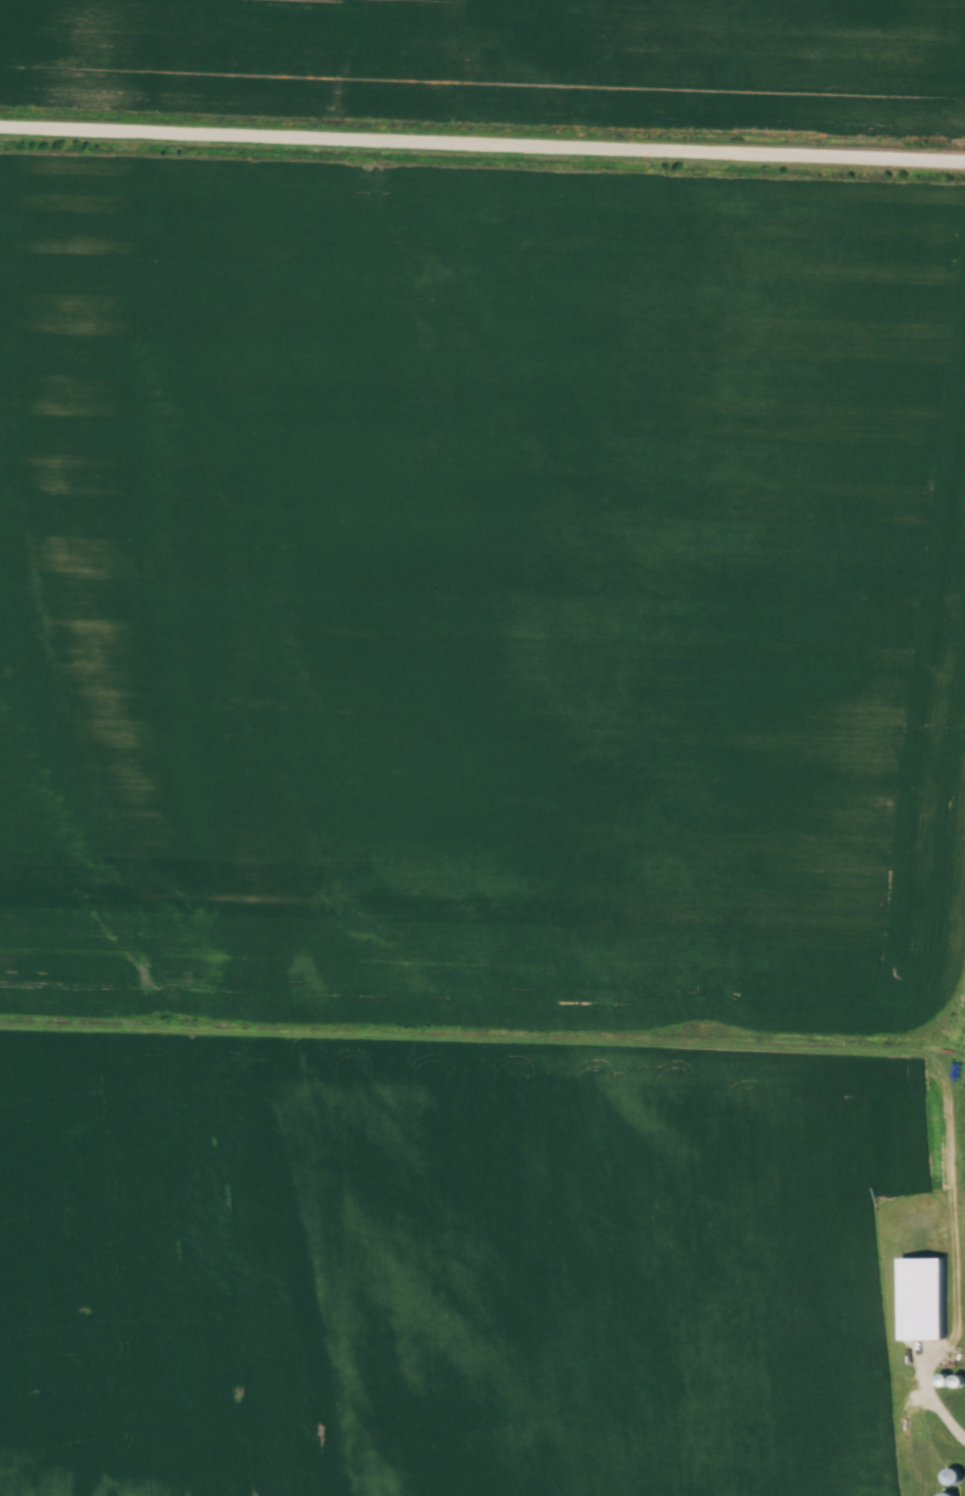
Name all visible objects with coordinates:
road: (482, 142)
building: (921, 1297)
building: (951, 1475)
building: (949, 1494)

